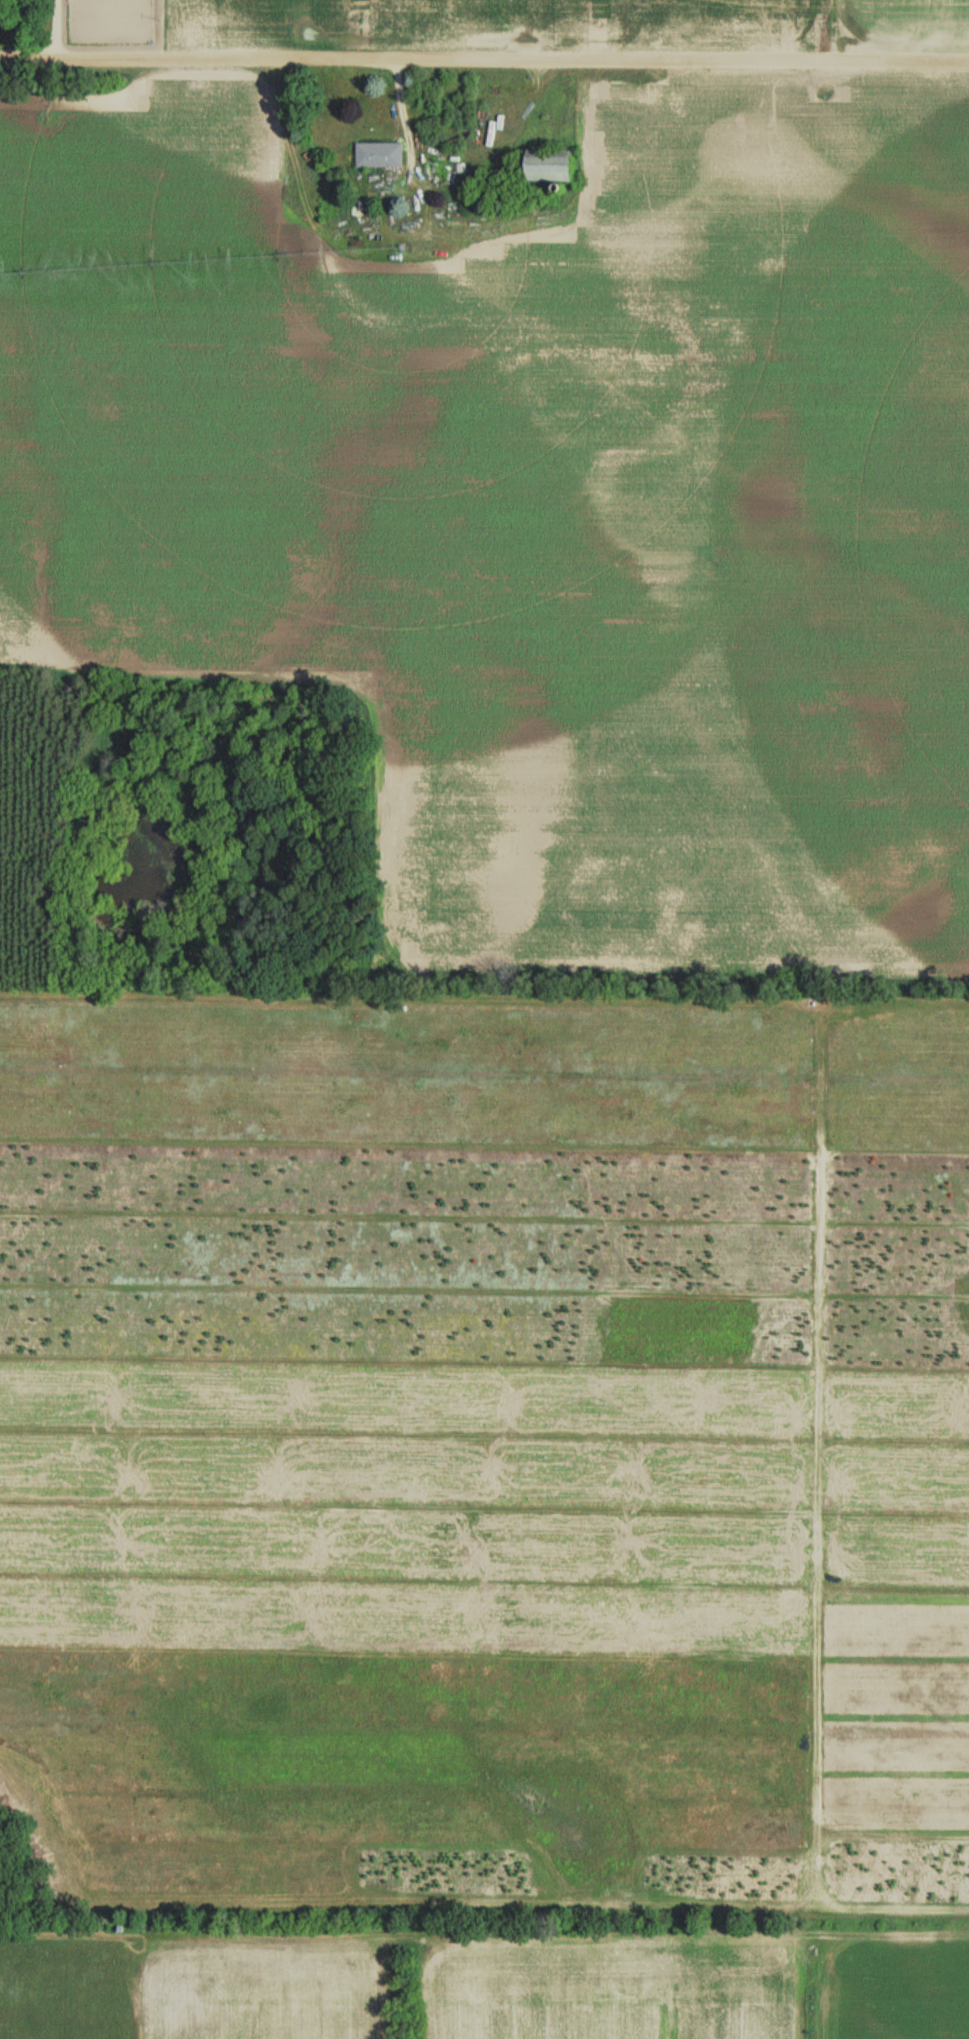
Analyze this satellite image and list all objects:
road: (54, 31)
road: (484, 63)
building: (377, 155)
building: (540, 170)

